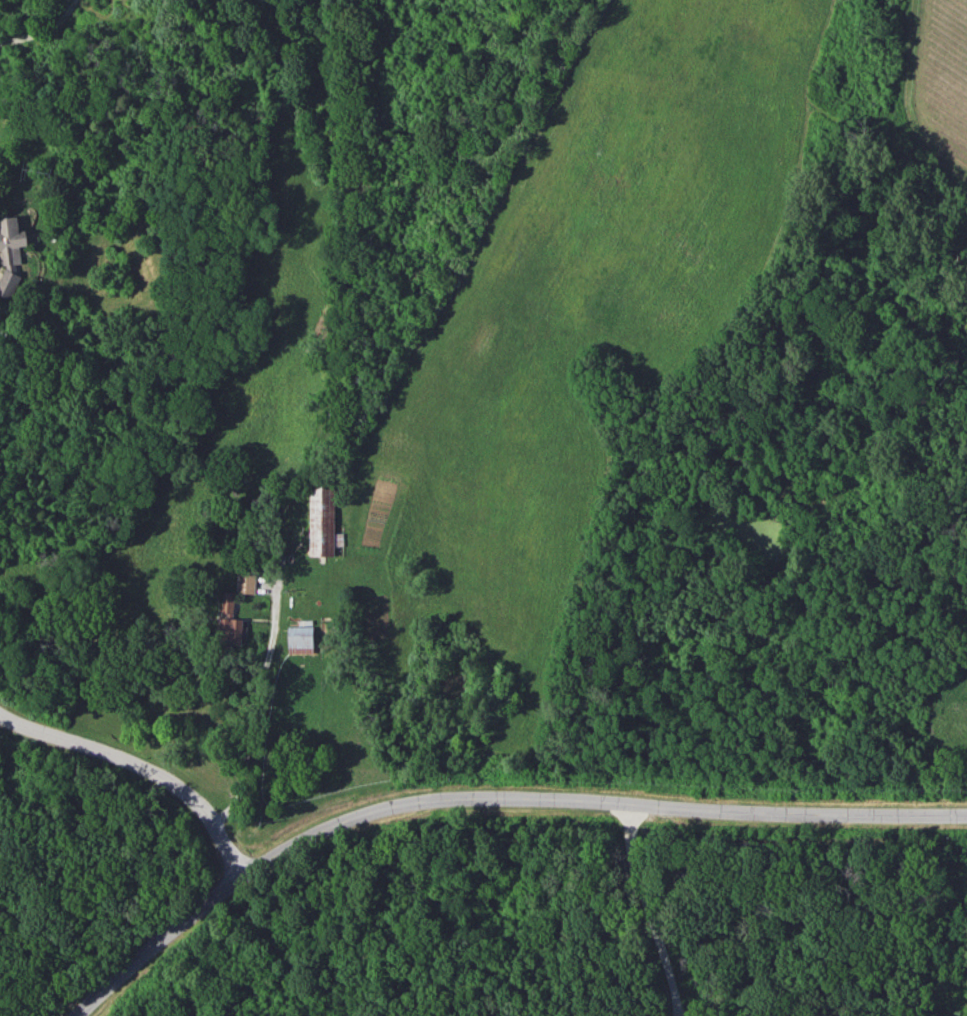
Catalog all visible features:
road: (43, 29)
building: (10, 253)
building: (322, 522)
building: (245, 582)
building: (228, 620)
building: (299, 639)
road: (259, 710)
road: (143, 765)
road: (490, 800)
road: (642, 913)

